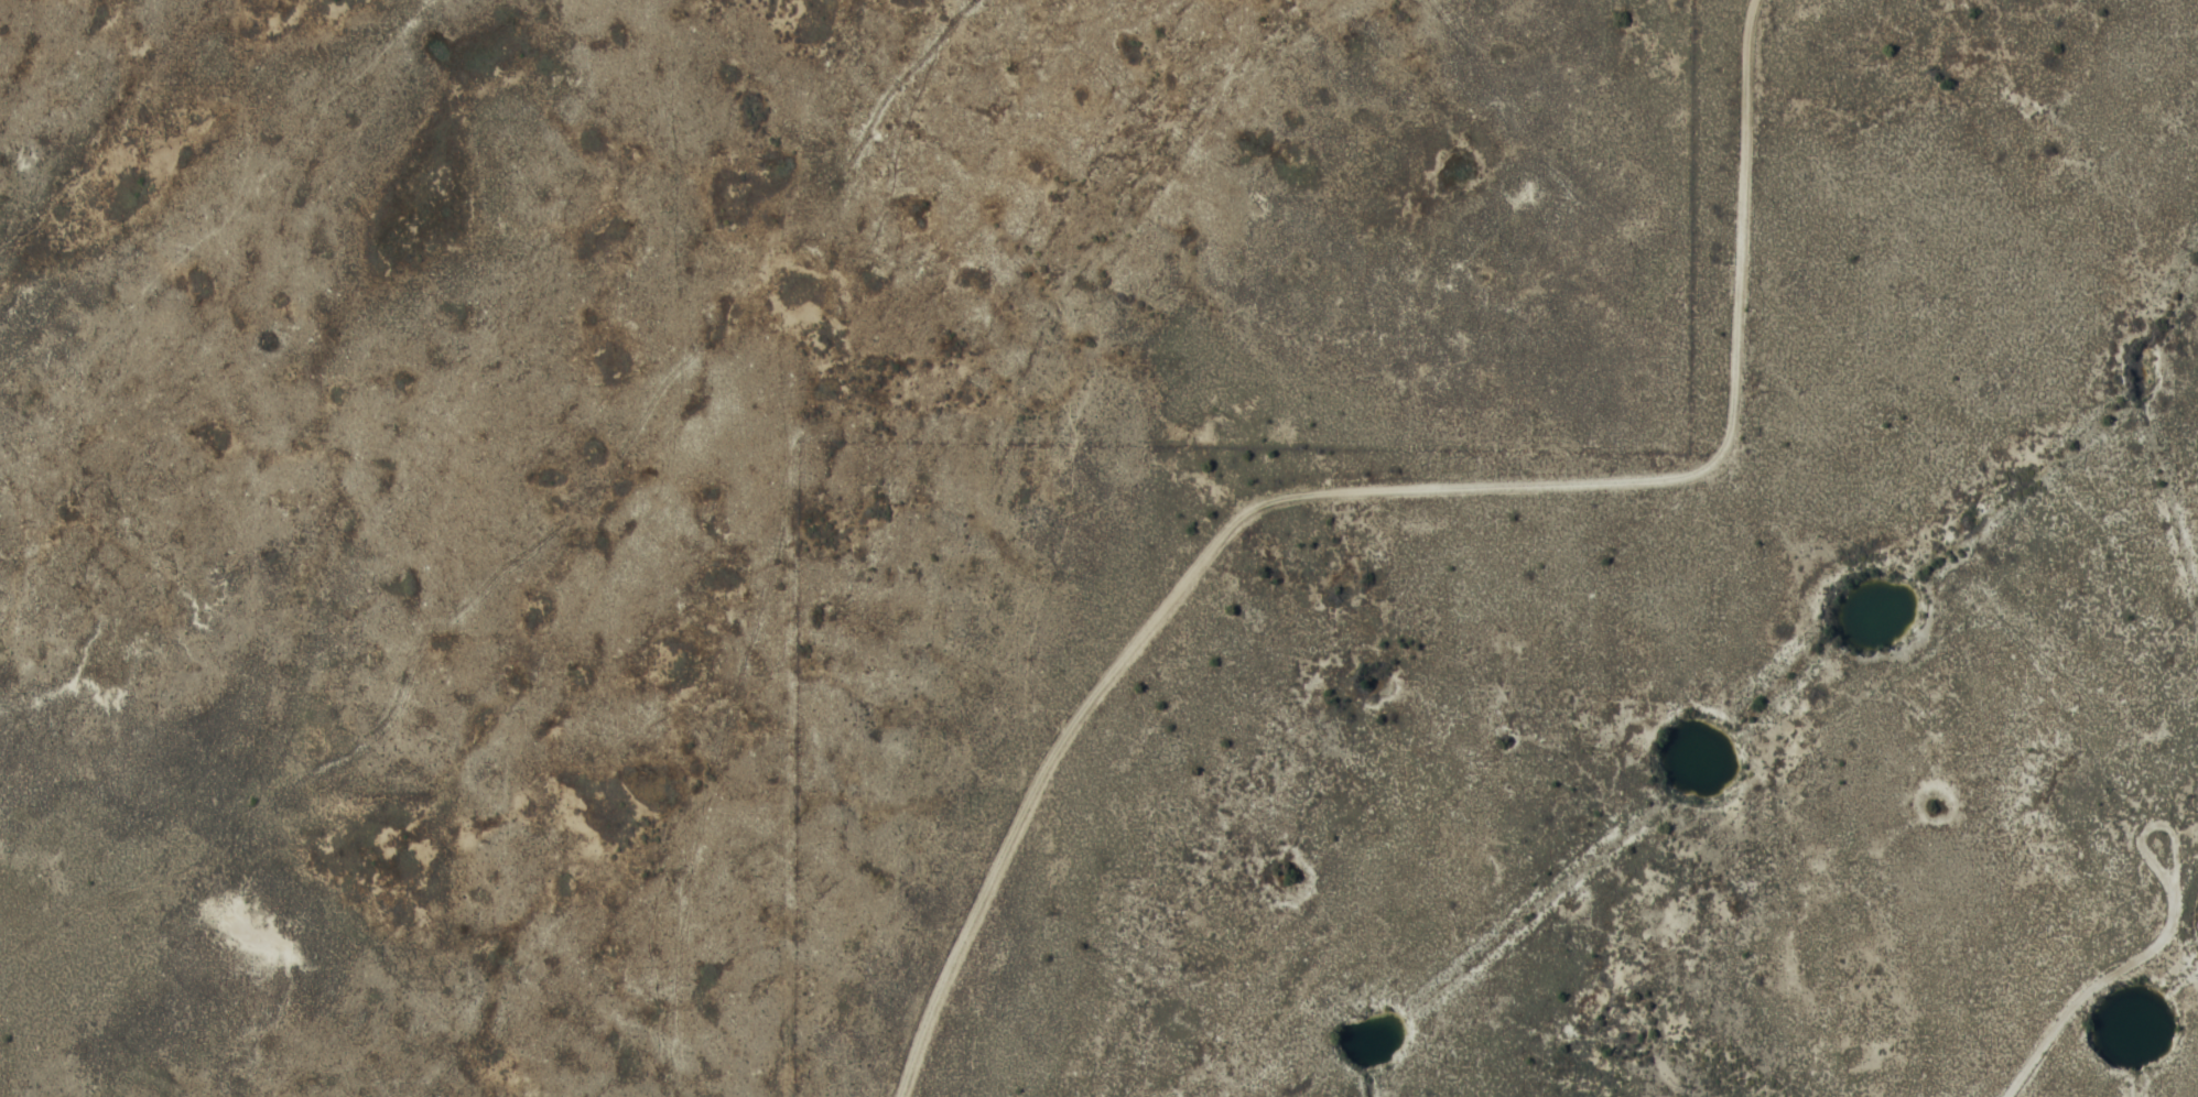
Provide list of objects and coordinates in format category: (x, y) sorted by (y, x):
road: (1354, 500)
road: (2124, 973)

